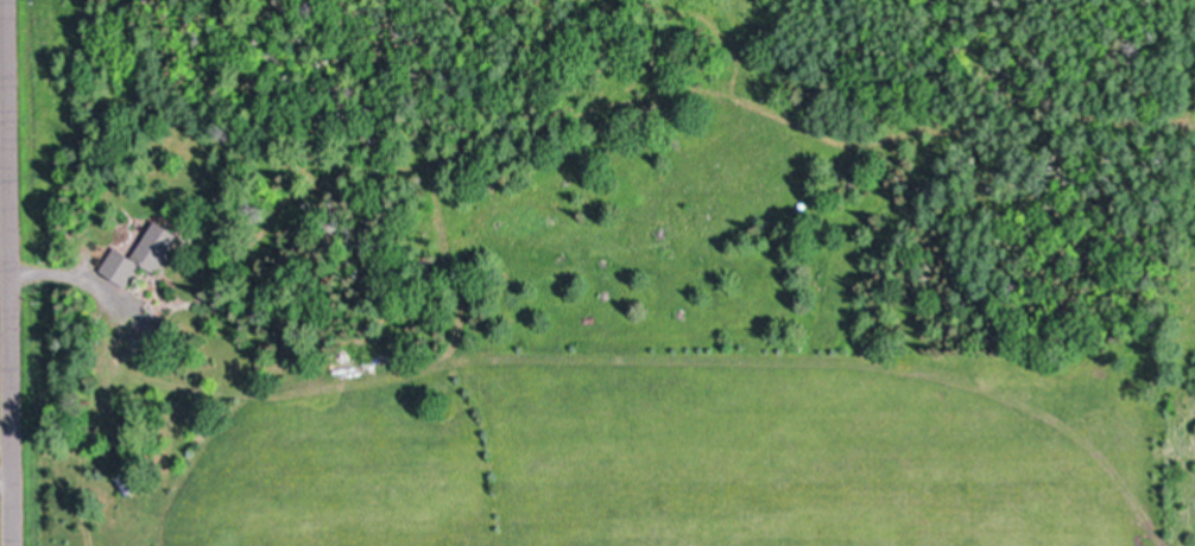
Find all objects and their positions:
building: (140, 255)
road: (6, 273)
building: (125, 484)

